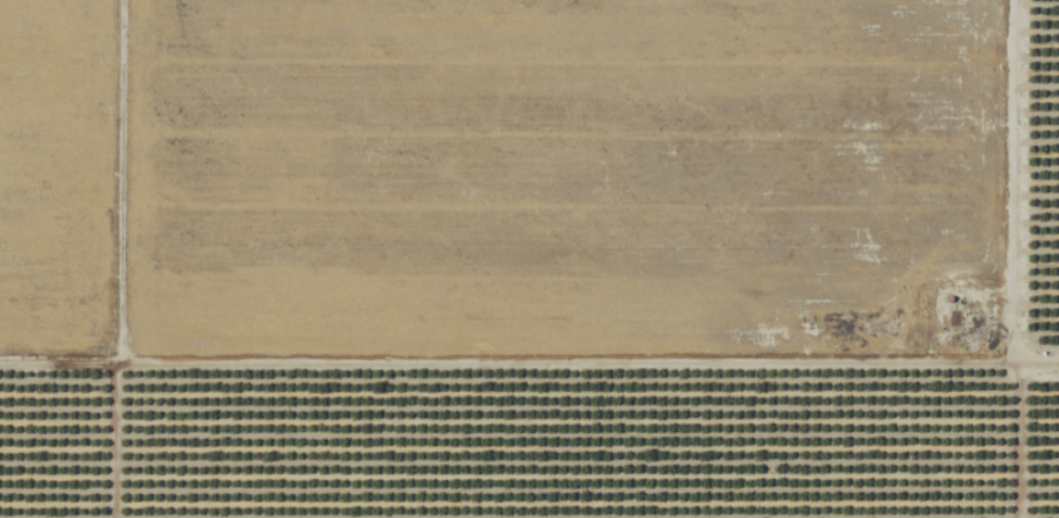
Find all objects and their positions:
road: (118, 185)
road: (1009, 258)
road: (529, 369)
road: (106, 443)

